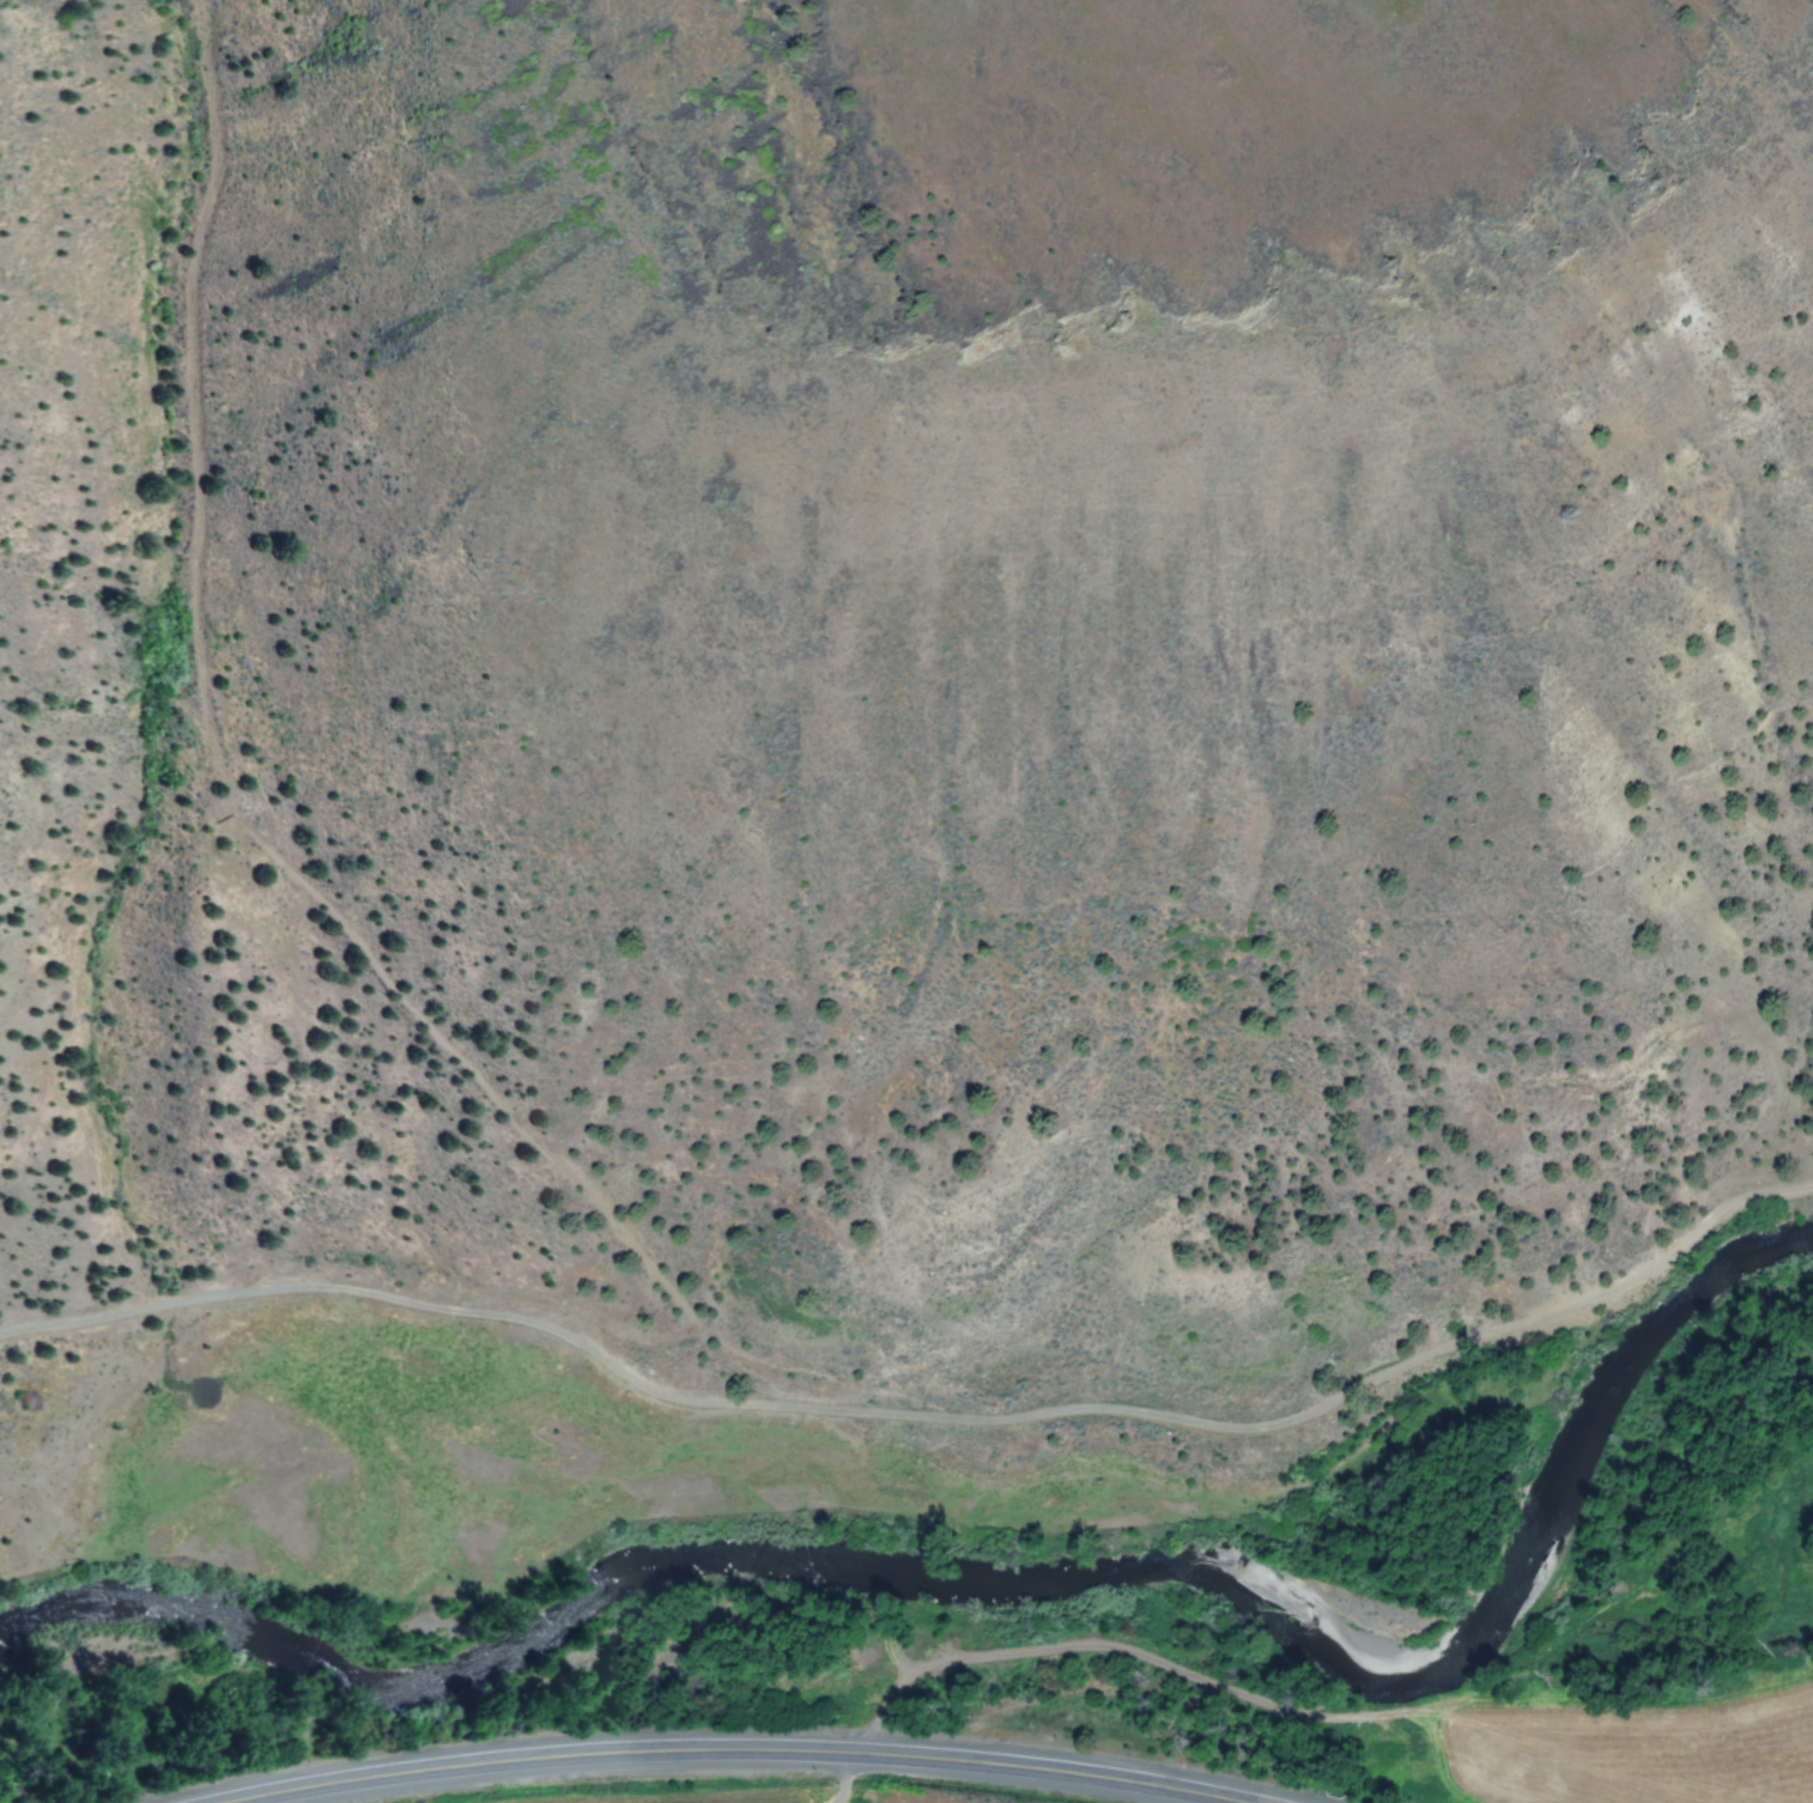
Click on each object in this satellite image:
river: (998, 1583)
road: (744, 1750)

